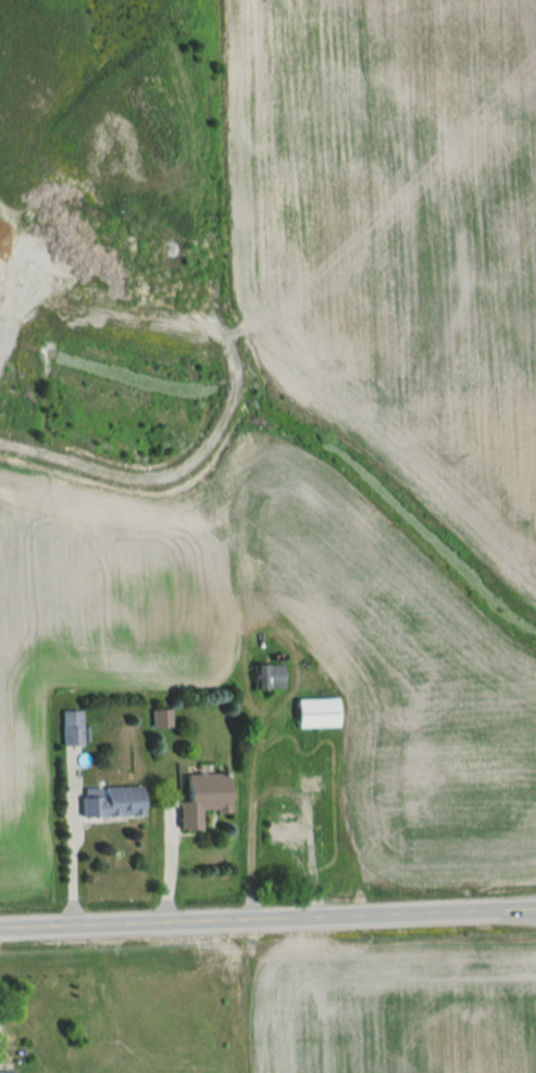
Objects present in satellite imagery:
crop: (397, 241)
crop: (2, 246)
road: (182, 464)
crop: (119, 661)
building: (265, 677)
building: (315, 713)
building: (160, 719)
building: (71, 728)
building: (310, 786)
building: (202, 799)
building: (111, 802)
building: (286, 828)
road: (64, 841)
road: (267, 919)
crop: (395, 1008)
building: (5, 1072)

